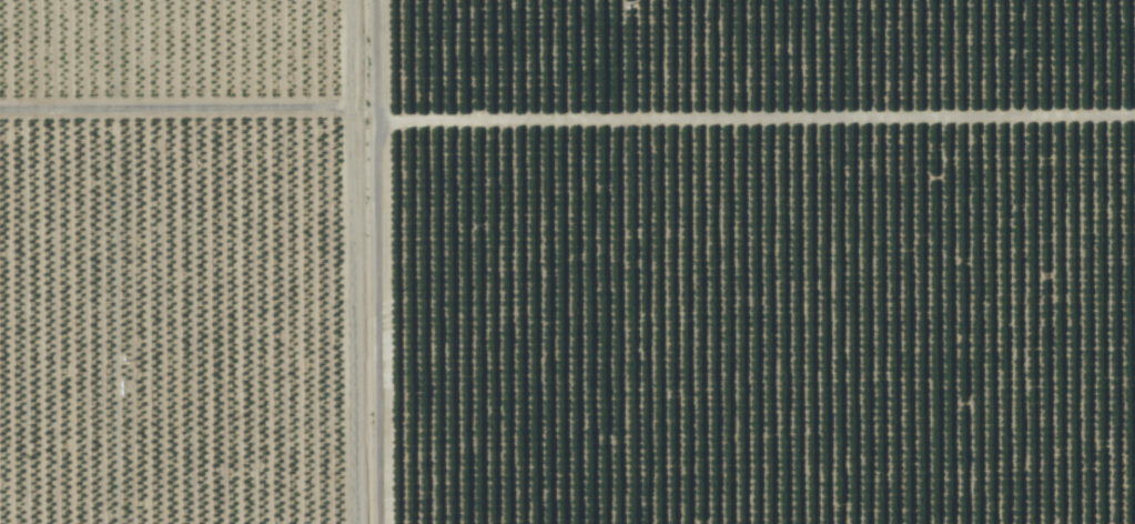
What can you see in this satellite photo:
road: (355, 262)

